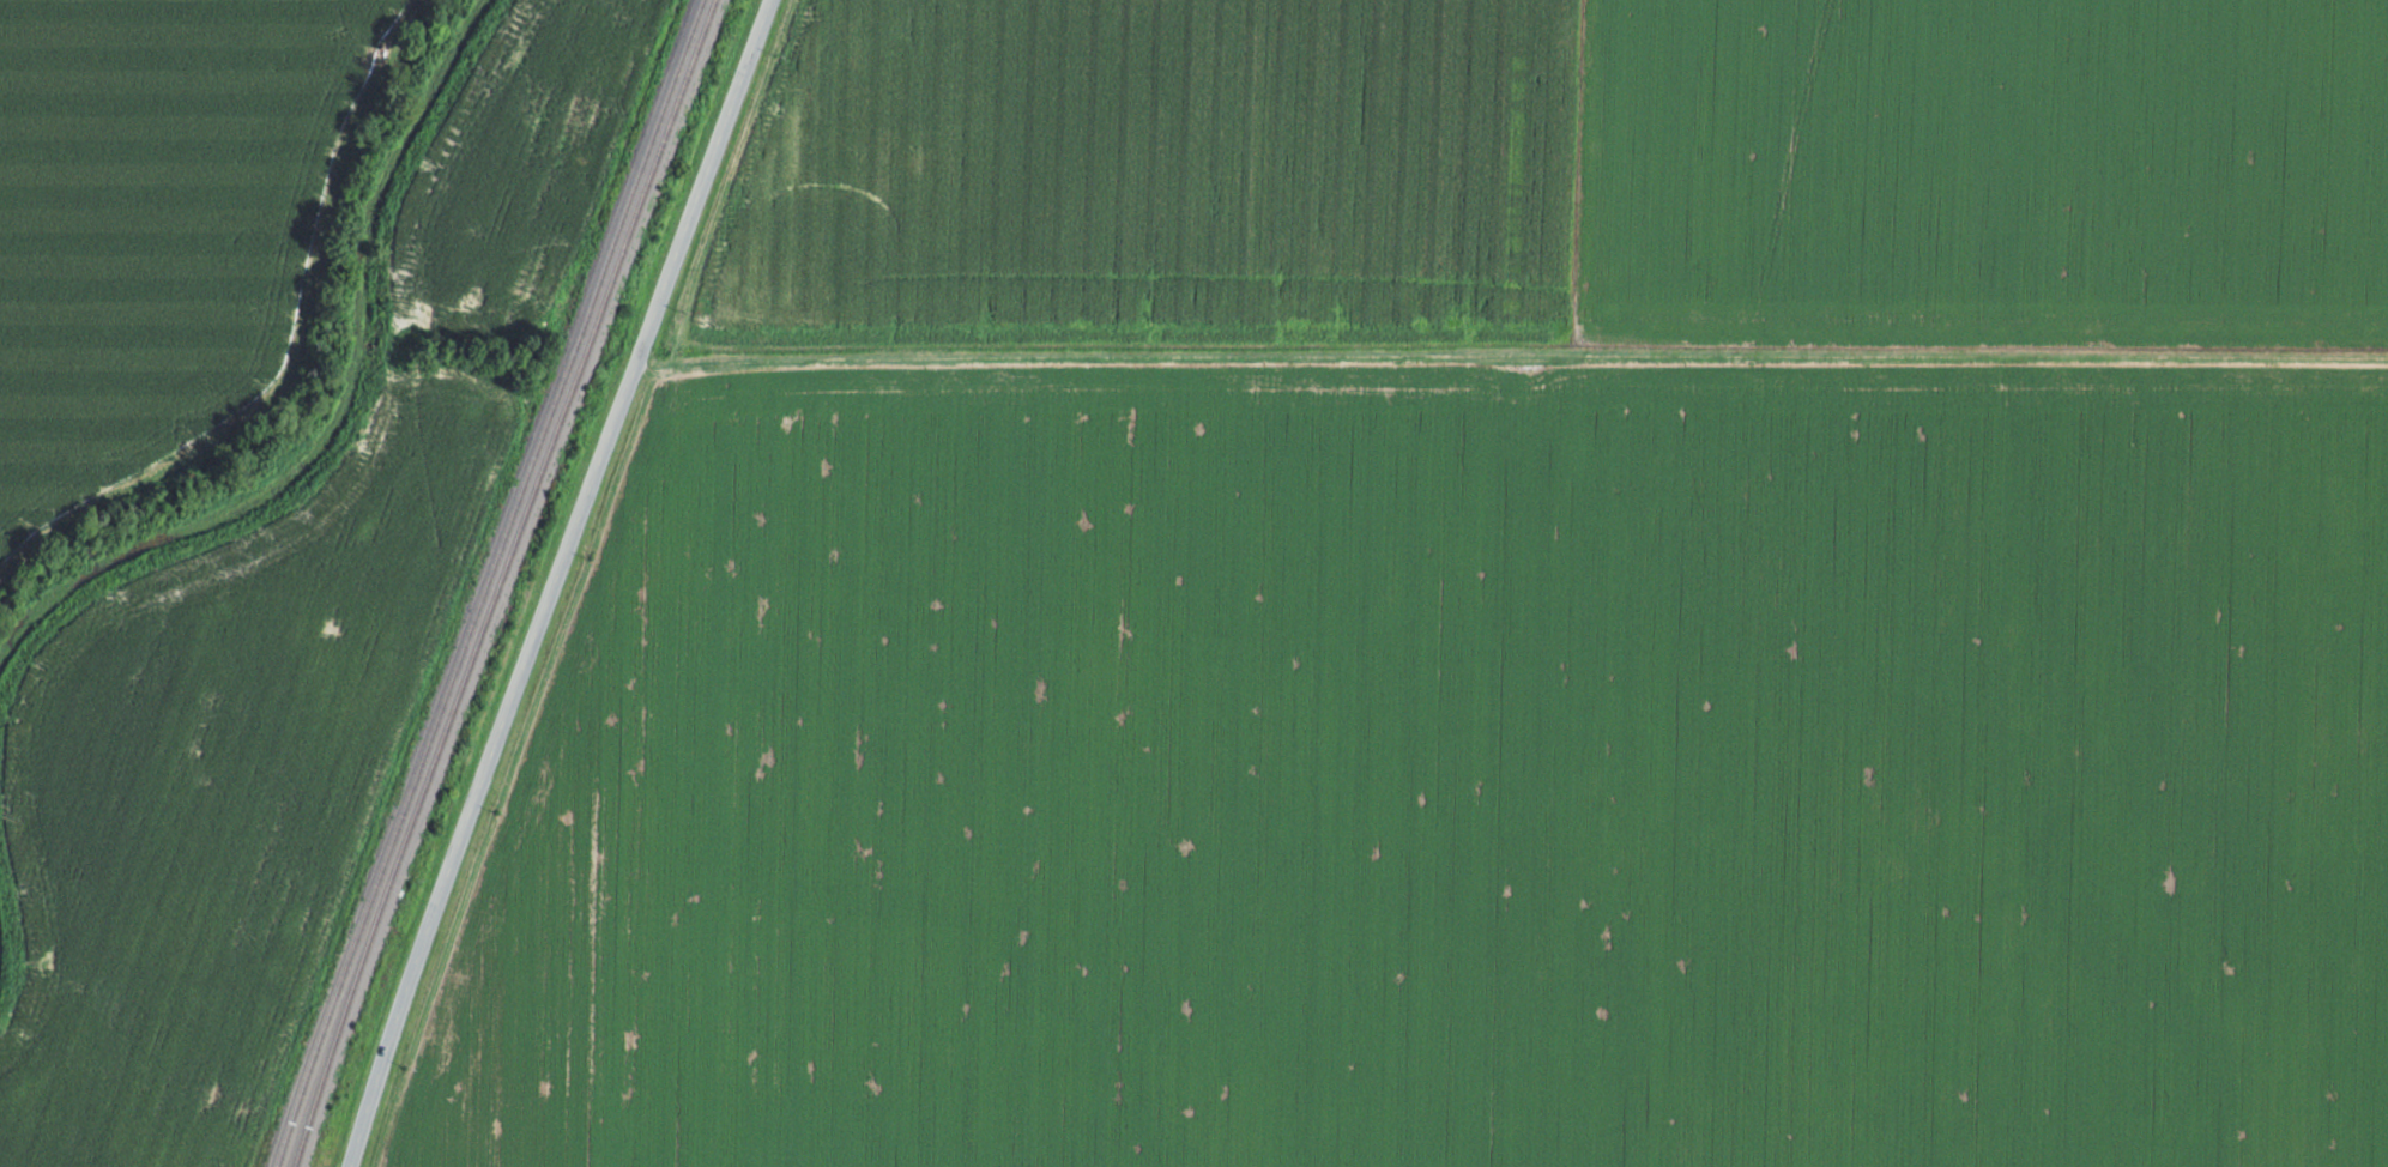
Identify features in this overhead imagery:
railway: (501, 581)
road: (554, 581)
railway: (486, 582)

